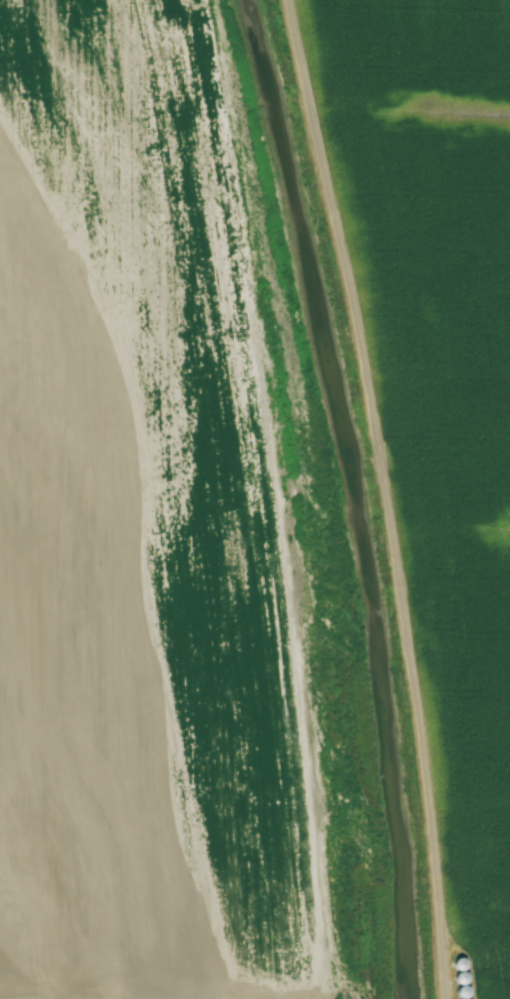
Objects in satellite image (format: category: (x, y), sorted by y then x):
road: (362, 497)

